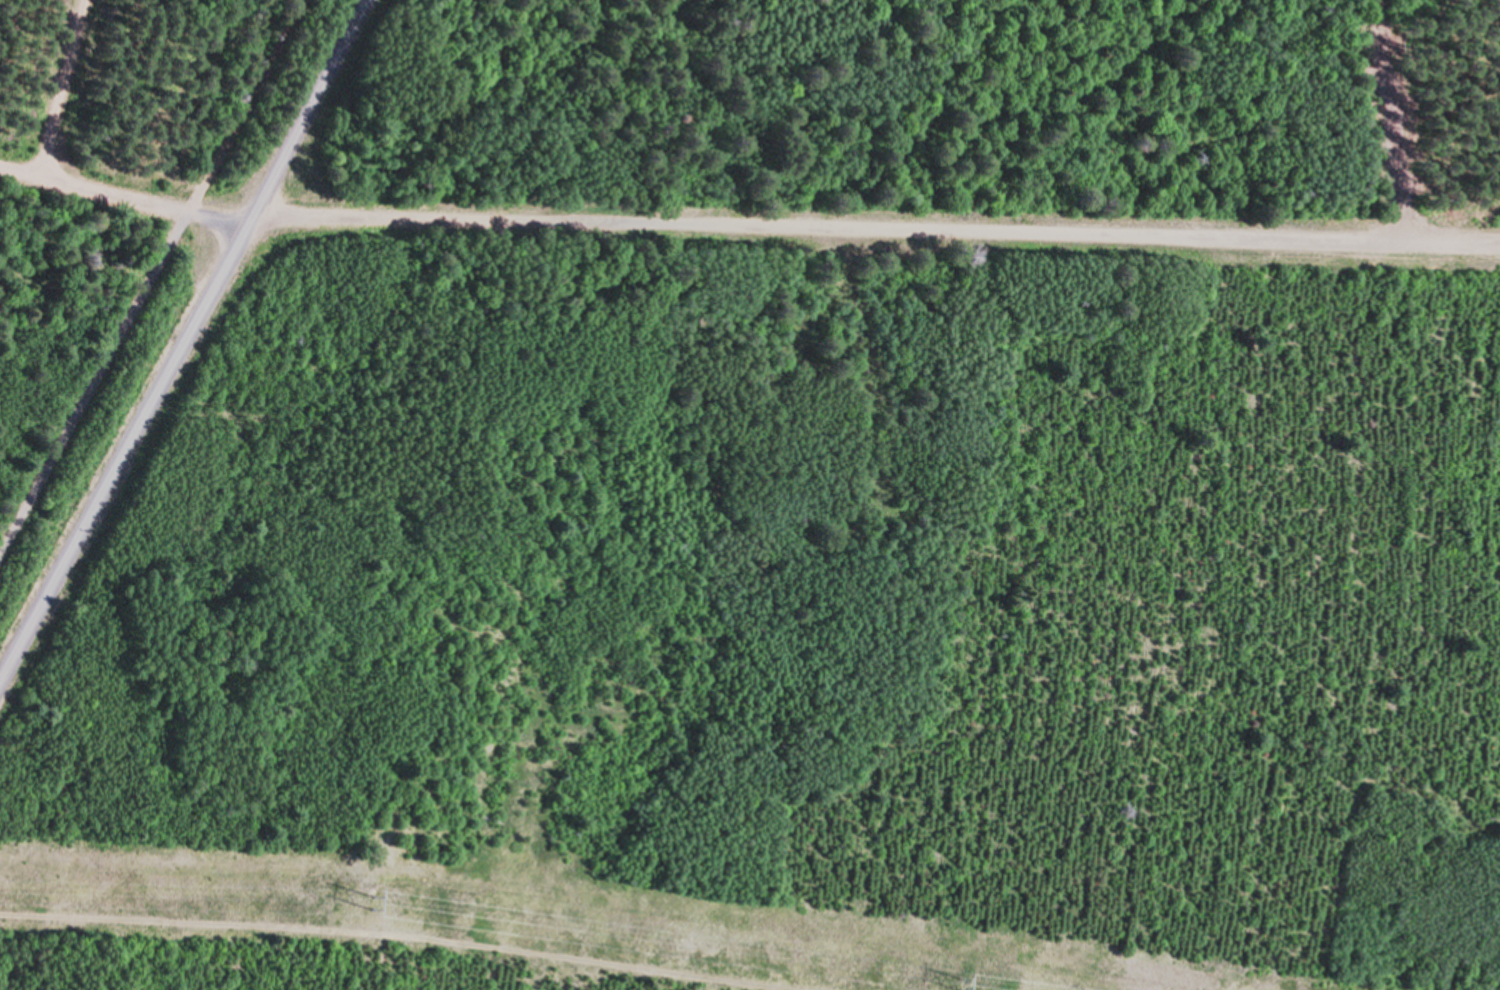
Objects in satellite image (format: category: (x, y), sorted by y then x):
road: (64, 86)
road: (746, 233)
road: (149, 274)
road: (182, 340)
power tower: (381, 903)
power tower: (972, 987)

